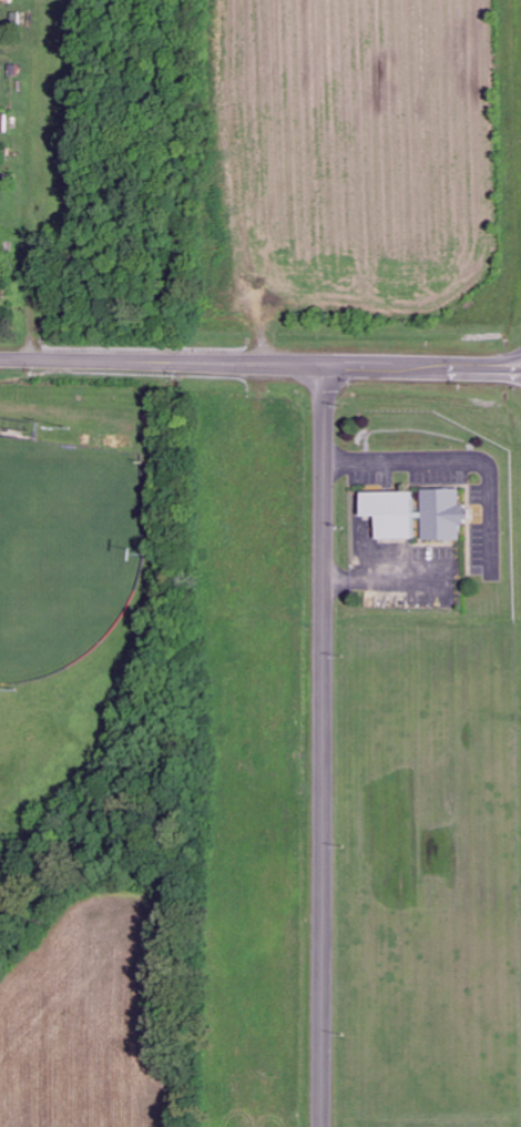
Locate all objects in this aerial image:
building: (2, 123)
road: (260, 359)
building: (442, 515)
park: (67, 550)
road: (324, 743)

